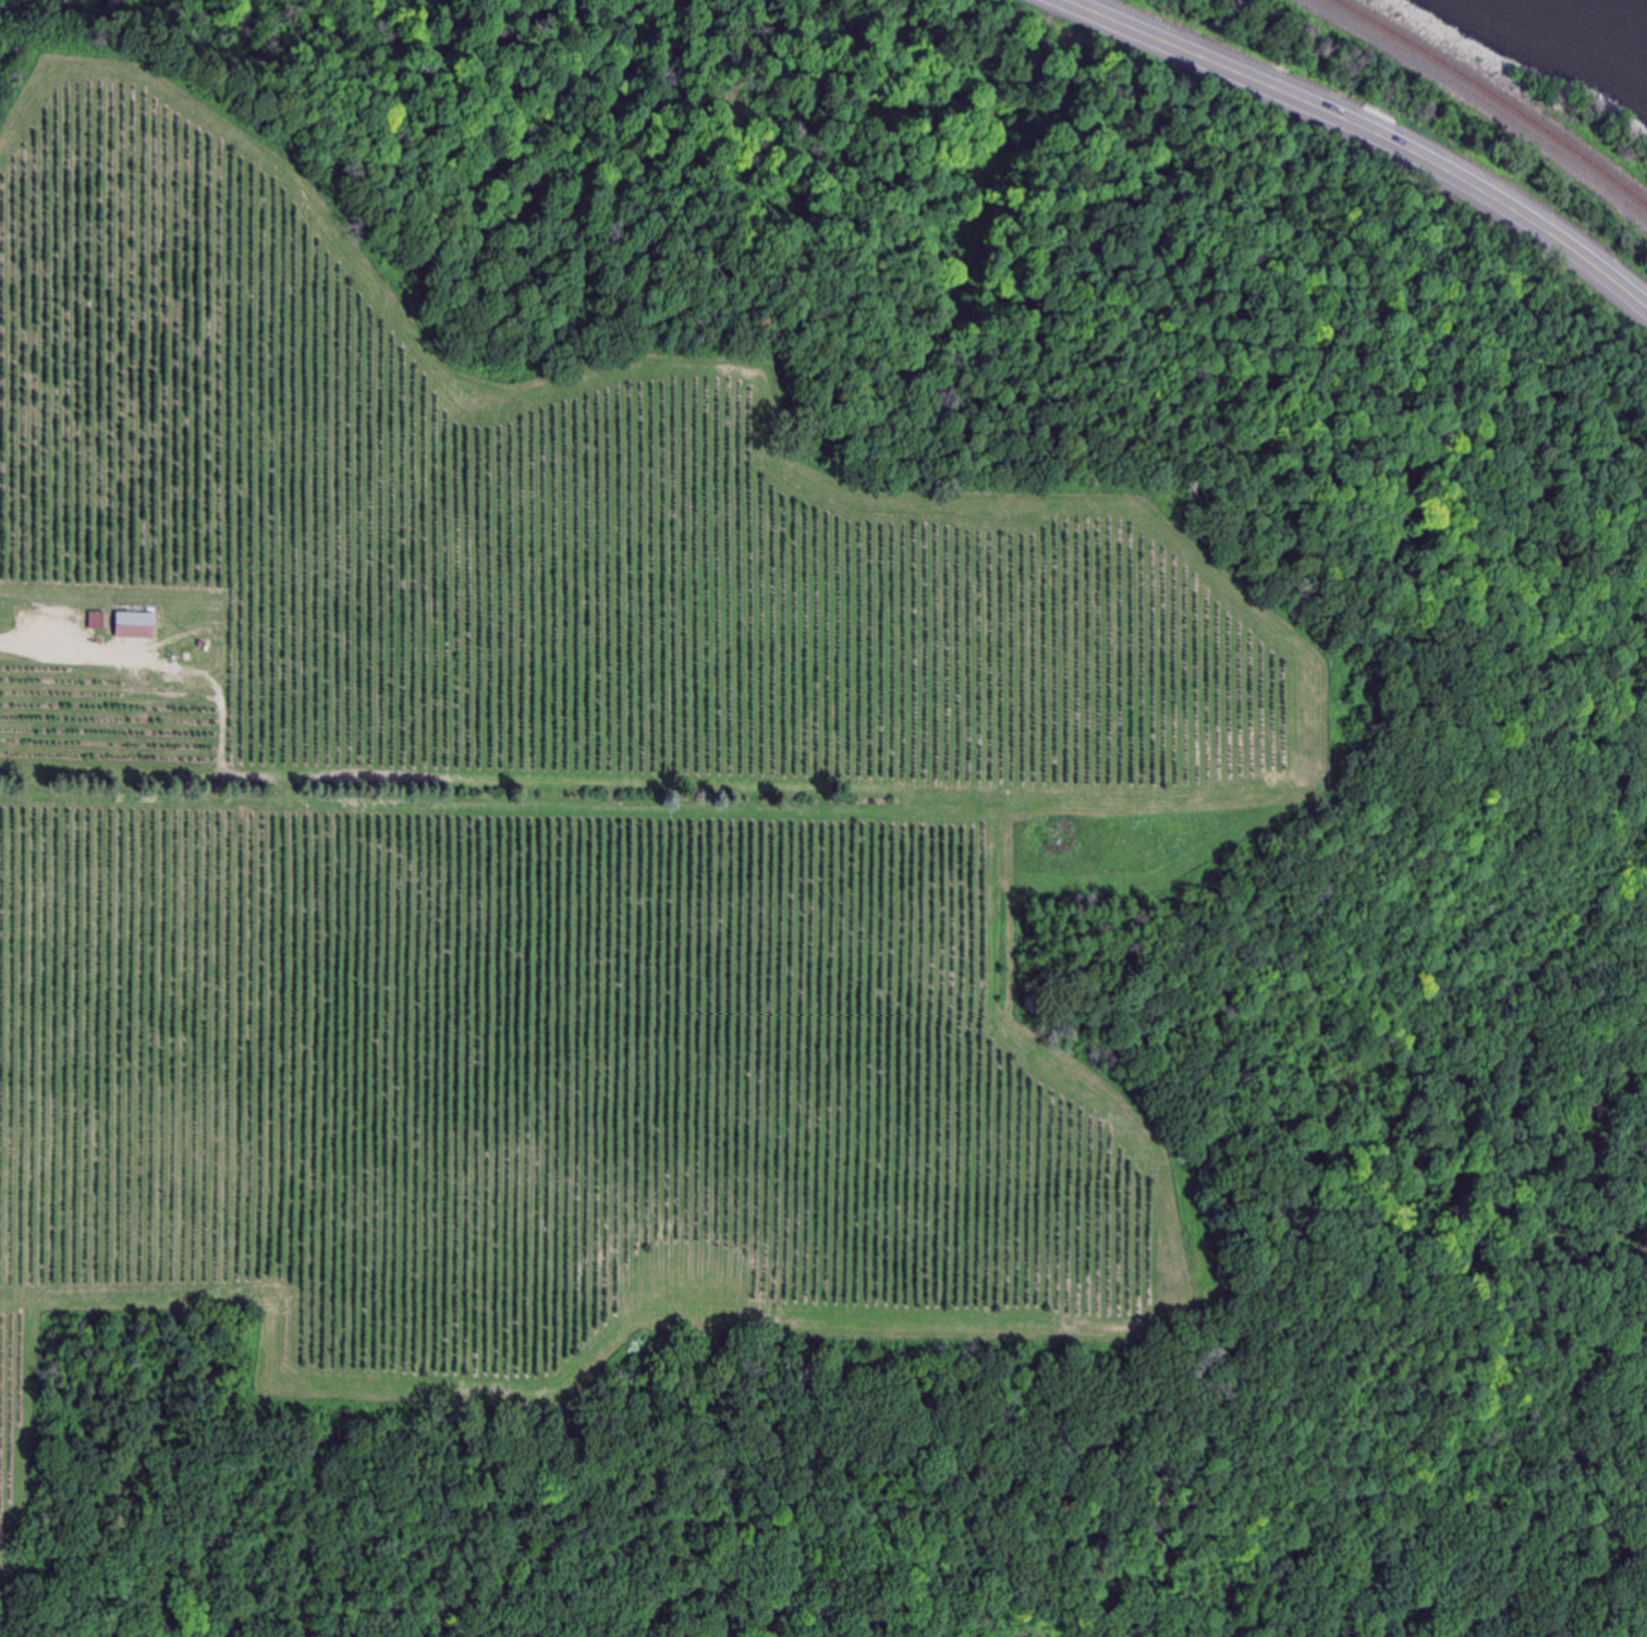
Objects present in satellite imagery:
railway: (1494, 97)
railway: (1484, 102)
road: (1366, 133)
building: (139, 625)
road: (151, 664)

